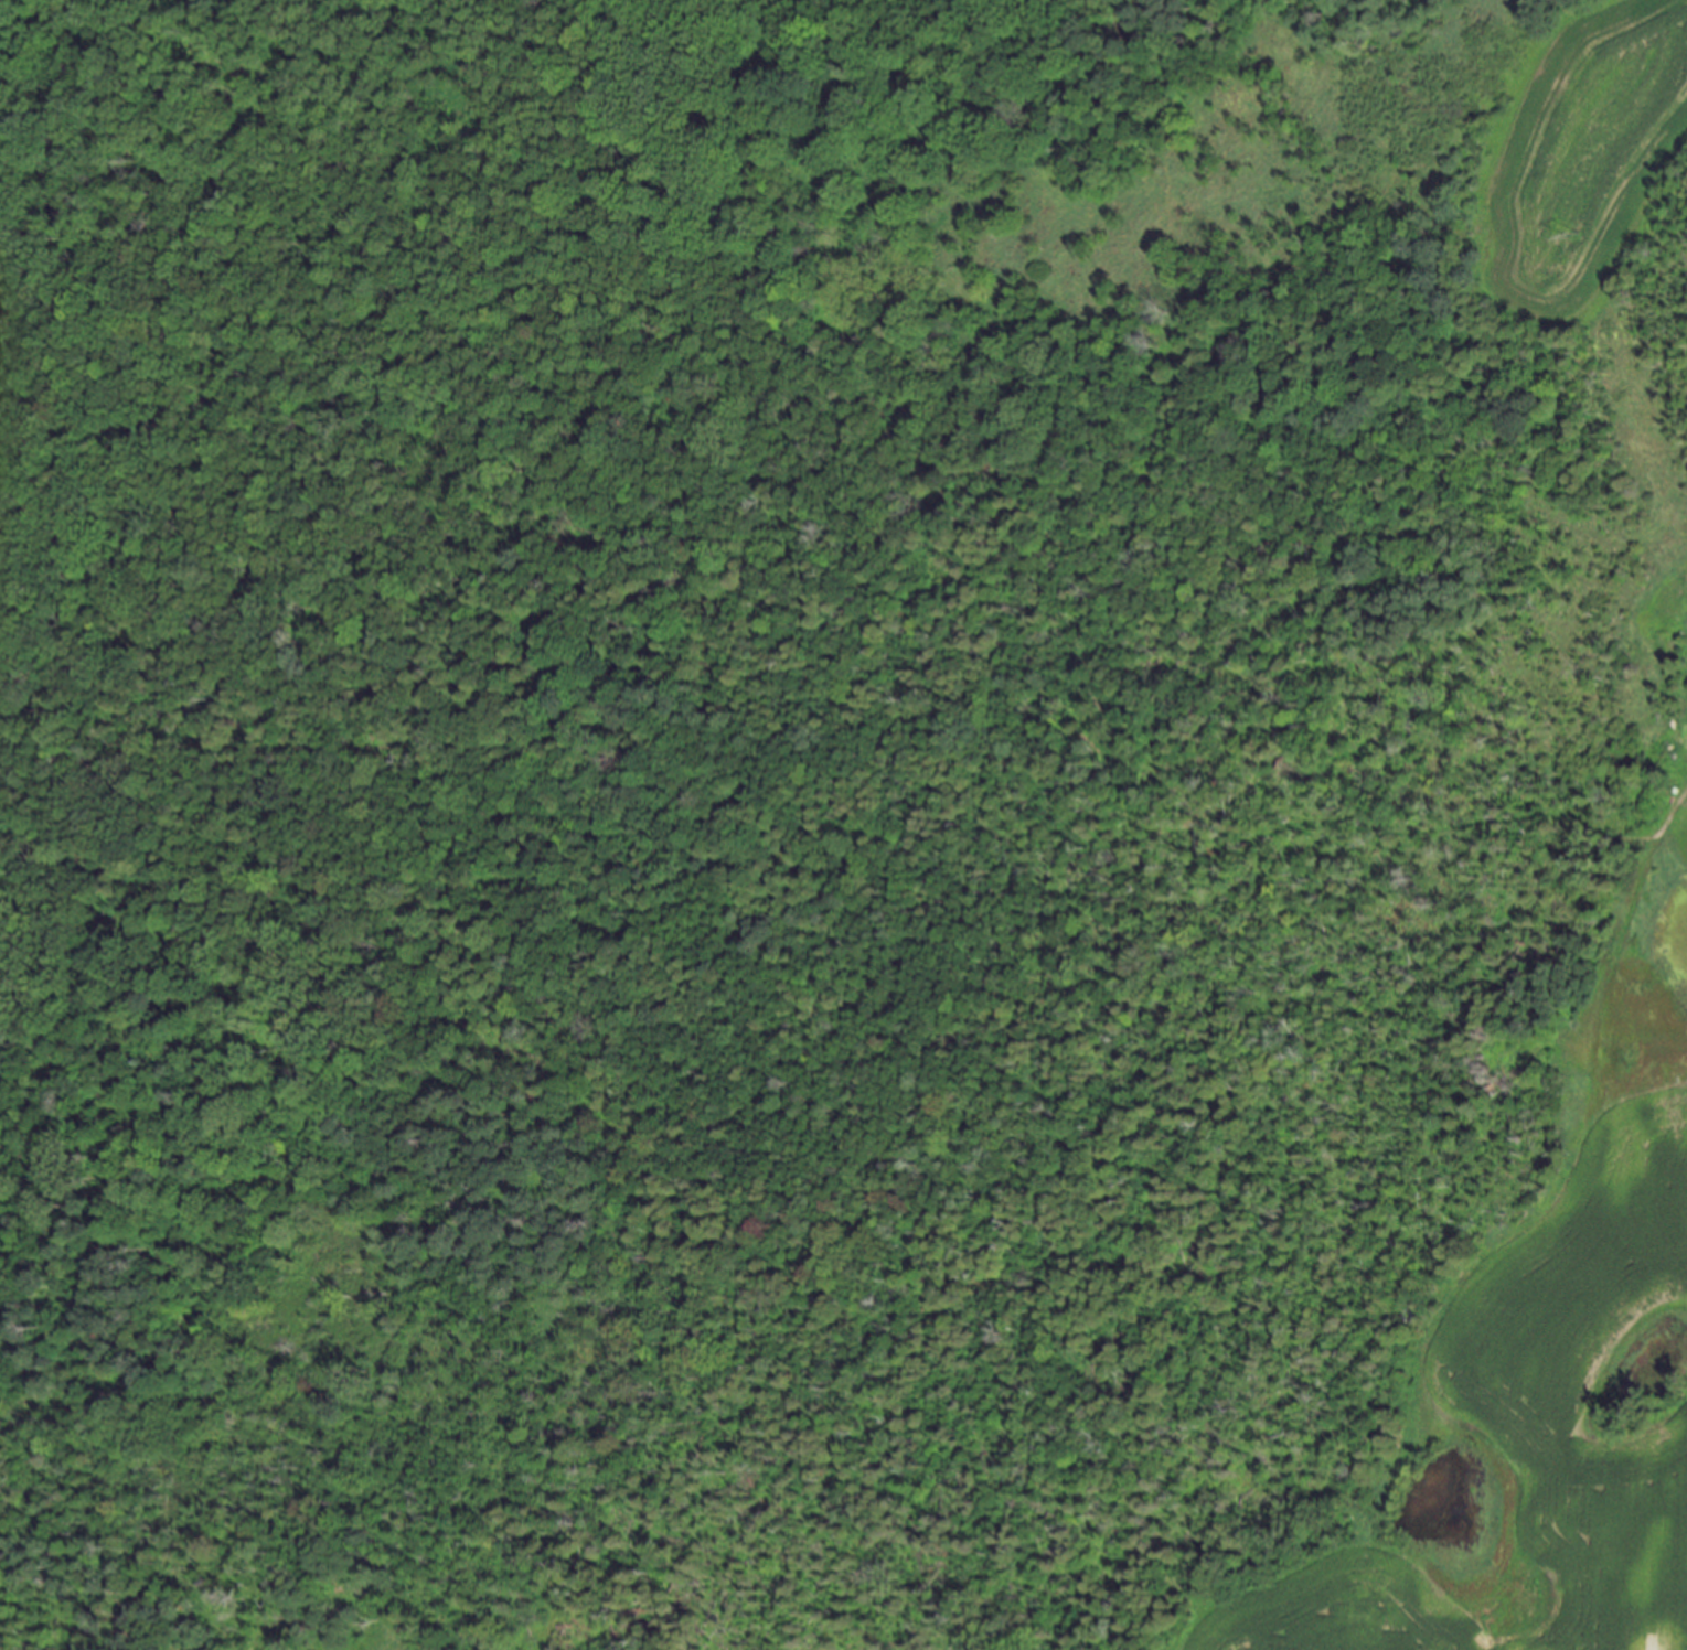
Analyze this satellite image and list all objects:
power tower: (1570, 237)

